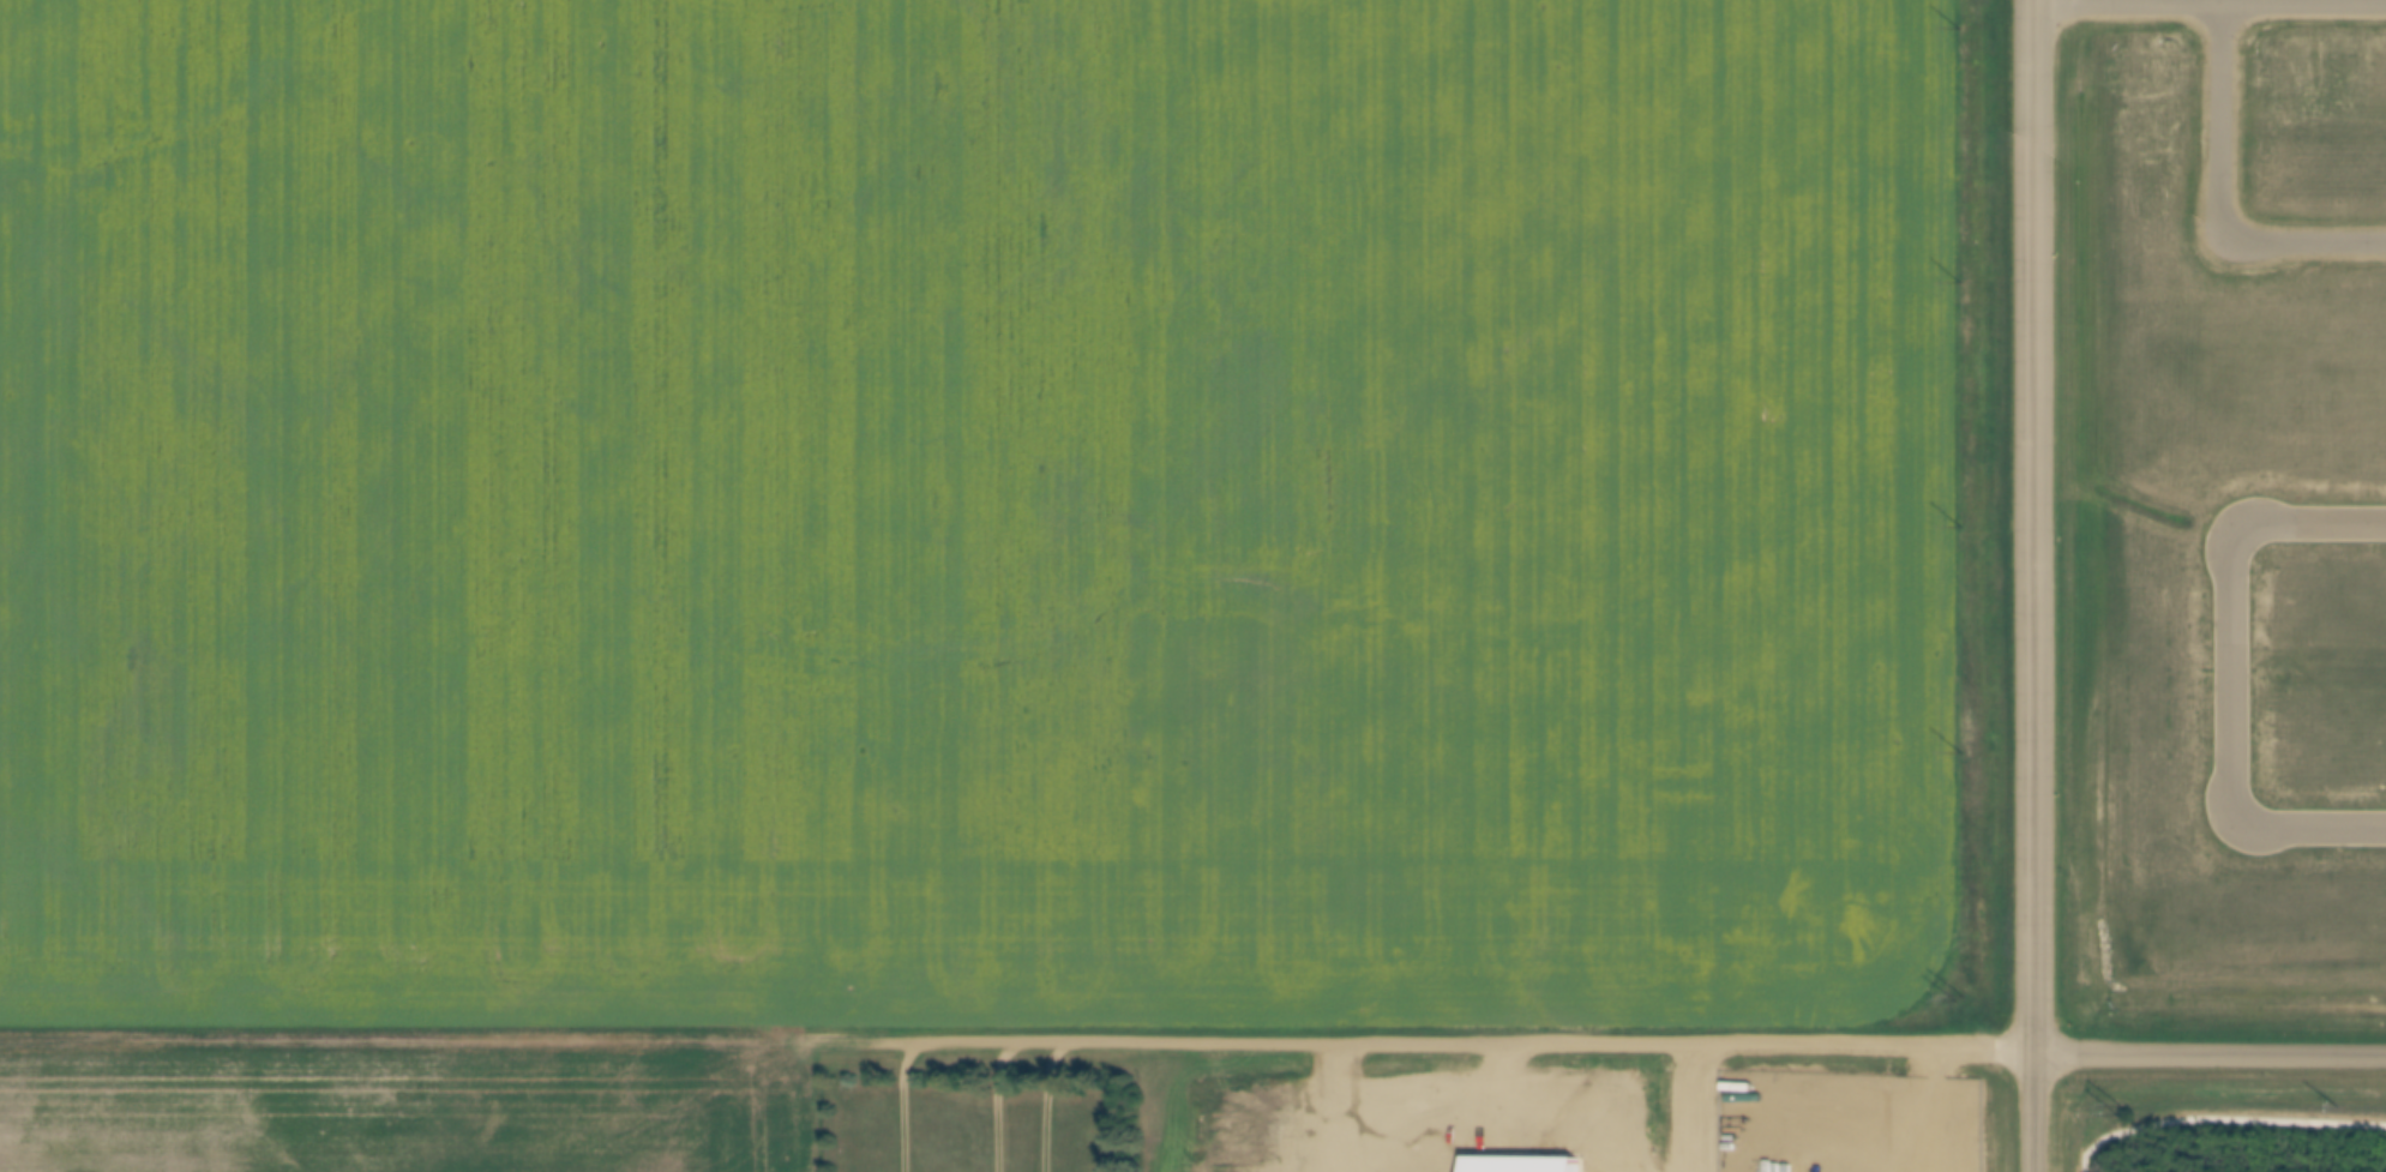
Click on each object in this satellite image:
road: (2208, 5)
road: (2213, 199)
road: (2033, 585)
road: (2222, 672)
road: (1294, 1045)
road: (1862, 1048)
road: (2210, 1054)
building: (1516, 1166)

